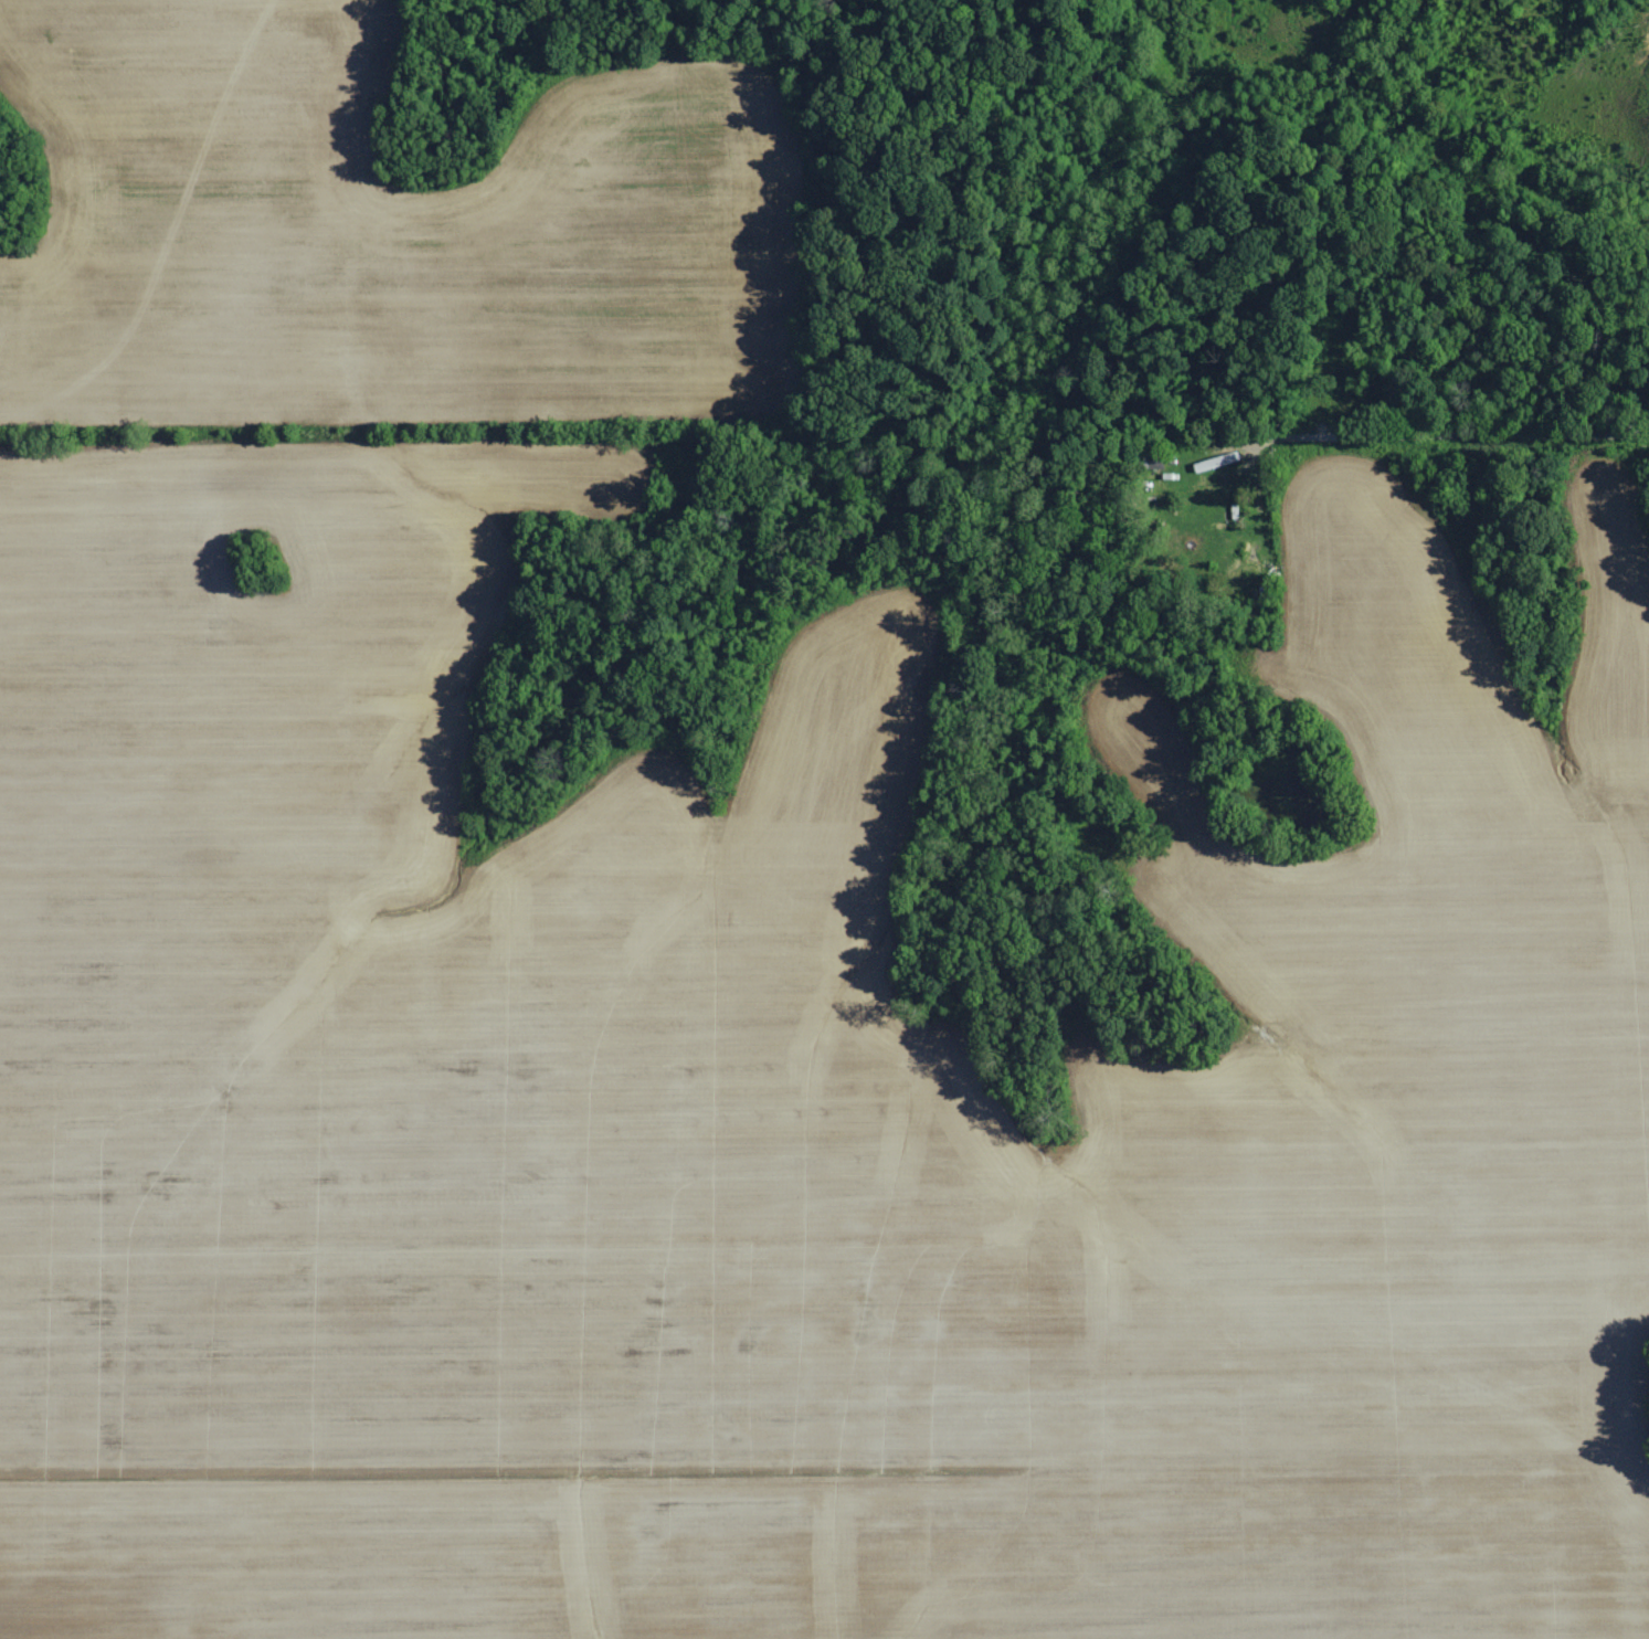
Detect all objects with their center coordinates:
road: (1406, 436)

